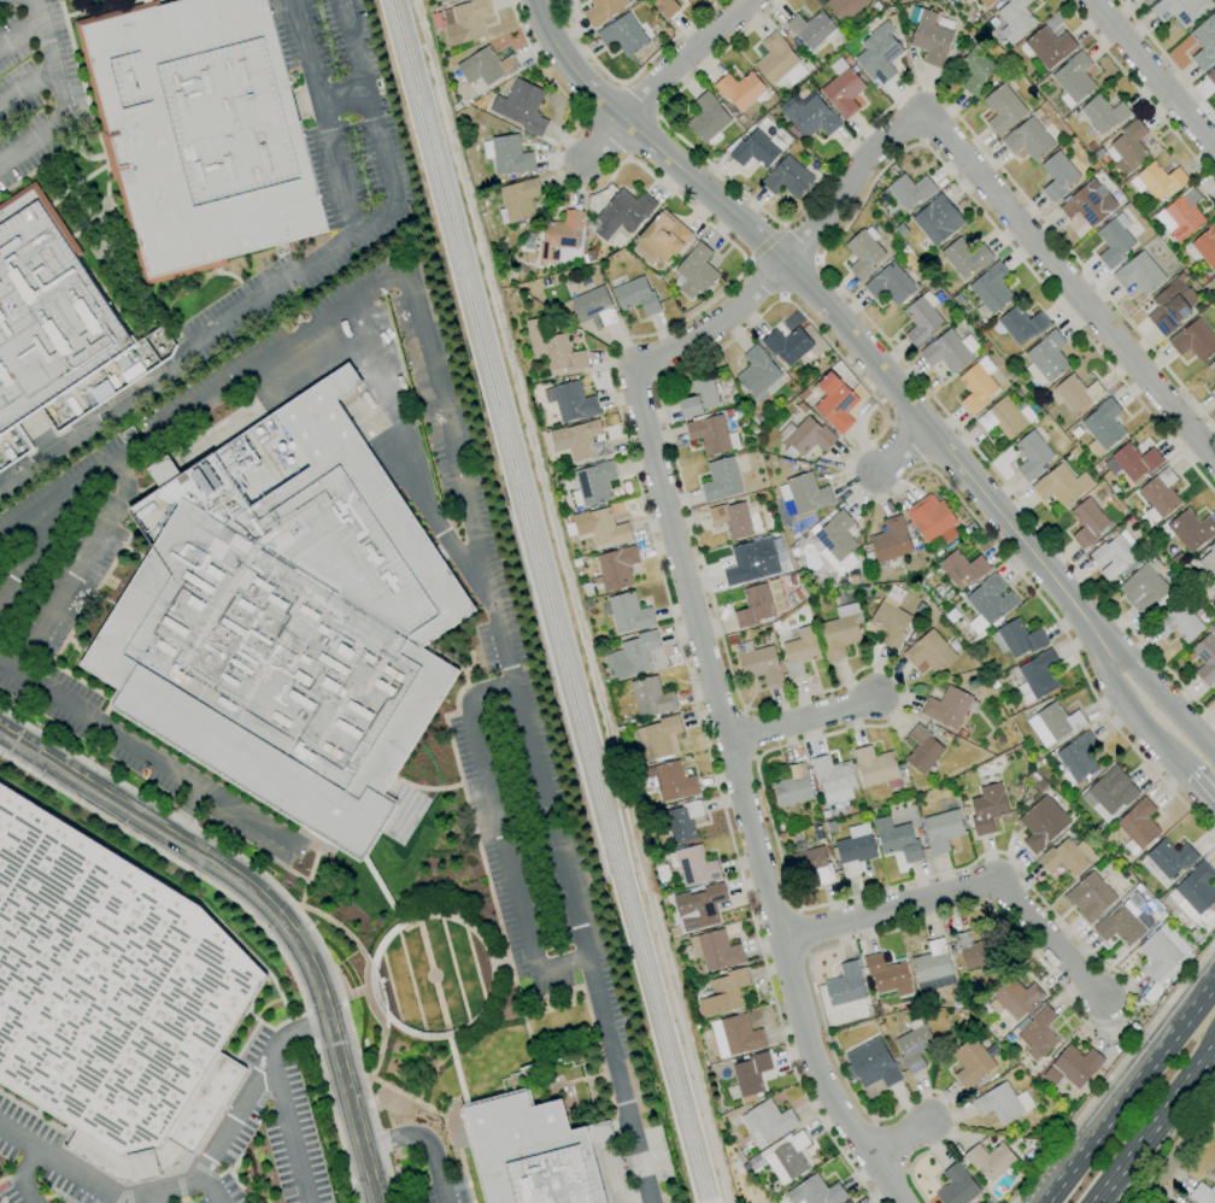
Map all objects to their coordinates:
road: (1, 0)
building: (70, 0)
building: (448, 0)
building: (451, 0)
building: (965, 0)
building: (1146, 1)
building: (986, 2)
building: (665, 7)
building: (844, 7)
building: (603, 10)
building: (1181, 10)
building: (1016, 19)
building: (463, 20)
building: (812, 29)
building: (623, 35)
road: (19, 36)
building: (931, 37)
building: (1204, 42)
building: (1049, 46)
building: (879, 53)
road: (688, 58)
road: (1166, 58)
building: (779, 61)
road: (539, 63)
building: (487, 65)
building: (976, 71)
road: (1151, 74)
road: (629, 76)
building: (1210, 76)
building: (1074, 80)
road: (25, 87)
building: (843, 88)
building: (740, 89)
road: (1139, 90)
road: (342, 94)
road: (58, 95)
road: (888, 106)
building: (522, 107)
building: (1003, 108)
building: (1102, 113)
building: (809, 115)
road: (324, 116)
building: (708, 118)
building: (200, 131)
road: (605, 139)
building: (1028, 139)
building: (1129, 146)
building: (488, 149)
building: (757, 149)
building: (510, 155)
building: (1057, 176)
building: (788, 178)
building: (1157, 181)
building: (909, 190)
building: (520, 199)
building: (1090, 203)
road: (1003, 211)
building: (623, 213)
building: (503, 216)
building: (1181, 216)
building: (938, 219)
building: (559, 235)
building: (665, 235)
building: (617, 239)
building: (1114, 241)
building: (1207, 246)
building: (645, 252)
building: (864, 252)
road: (821, 257)
building: (965, 257)
building: (421, 268)
building: (695, 271)
building: (1139, 274)
building: (891, 283)
road: (283, 284)
building: (992, 287)
building: (636, 297)
road: (821, 301)
building: (432, 306)
building: (593, 306)
building: (1172, 306)
building: (46, 310)
building: (921, 322)
building: (1022, 324)
building: (440, 339)
building: (1195, 340)
building: (787, 345)
building: (554, 350)
building: (950, 351)
building: (411, 354)
building: (1046, 359)
building: (1211, 368)
building: (759, 374)
building: (978, 385)
building: (1211, 386)
building: (1078, 393)
building: (548, 397)
building: (698, 398)
building: (574, 401)
road: (202, 403)
building: (835, 403)
building: (1005, 418)
building: (1104, 424)
building: (711, 434)
building: (805, 436)
building: (575, 439)
building: (598, 448)
road: (410, 450)
road: (899, 451)
building: (1032, 456)
building: (1132, 462)
building: (721, 480)
building: (594, 482)
building: (1061, 485)
building: (805, 493)
building: (1160, 494)
building: (576, 498)
building: (932, 518)
building: (734, 520)
building: (1087, 522)
building: (600, 527)
building: (570, 529)
building: (1191, 529)
building: (891, 540)
building: (838, 542)
road: (33, 548)
road: (655, 552)
building: (1114, 557)
building: (747, 561)
building: (1209, 562)
road: (80, 568)
building: (615, 569)
building: (963, 569)
building: (587, 589)
building: (1146, 589)
railway: (540, 601)
railway: (552, 601)
building: (990, 603)
building: (763, 604)
building: (606, 610)
building: (629, 612)
building: (1179, 623)
building: (890, 624)
building: (841, 630)
building: (1021, 638)
building: (800, 651)
building: (929, 652)
building: (635, 653)
building: (1205, 658)
building: (759, 663)
building: (1037, 676)
building: (313, 679)
road: (1155, 689)
road: (1115, 694)
building: (651, 697)
building: (1214, 697)
road: (716, 705)
building: (947, 706)
road: (799, 718)
road: (892, 718)
building: (1053, 723)
road: (528, 738)
building: (657, 739)
building: (922, 750)
road: (148, 753)
building: (1078, 758)
road: (1176, 762)
building: (877, 768)
building: (833, 777)
building: (669, 781)
building: (792, 787)
road: (1202, 787)
building: (1110, 791)
building: (987, 808)
road: (188, 812)
building: (1043, 821)
building: (681, 823)
building: (1138, 826)
building: (941, 829)
road: (503, 834)
building: (897, 839)
building: (876, 841)
building: (855, 849)
building: (1067, 857)
building: (1169, 858)
building: (811, 862)
building: (694, 865)
building: (663, 873)
road: (280, 892)
road: (962, 892)
building: (1090, 897)
building: (1192, 899)
road: (268, 905)
building: (703, 908)
road: (254, 919)
building: (1122, 925)
building: (715, 950)
building: (978, 953)
building: (1164, 955)
building: (933, 968)
building: (887, 975)
building: (845, 985)
building: (723, 992)
building: (1017, 998)
building: (111, 999)
building: (1037, 1033)
building: (735, 1035)
building: (915, 1048)
building: (972, 1062)
building: (873, 1064)
building: (1074, 1067)
road: (1114, 1072)
building: (751, 1074)
road: (1128, 1091)
building: (1002, 1103)
road: (234, 1116)
building: (768, 1122)
road: (1154, 1123)
road: (288, 1129)
road: (899, 1138)
road: (424, 1139)
road: (1175, 1152)
building: (785, 1157)
building: (990, 1160)
road: (60, 1163)
road: (1186, 1164)
road: (22, 1175)
building: (957, 1186)
road: (212, 1187)
building: (816, 1192)
building: (1203, 1193)
road: (153, 1199)
building: (849, 1202)
building: (1182, 1202)
building: (1185, 1202)

